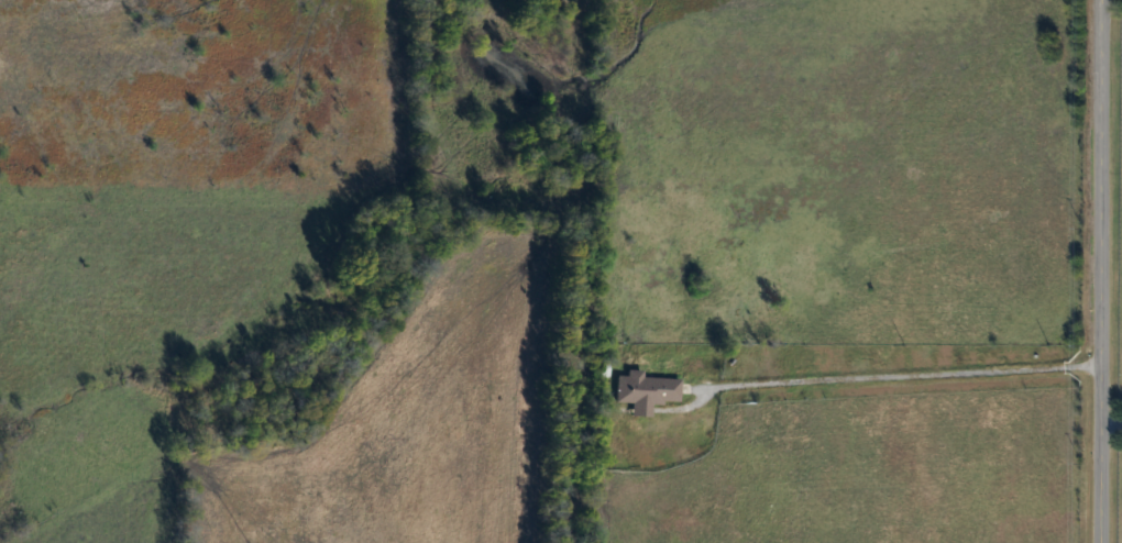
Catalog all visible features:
road: (1104, 271)
road: (905, 375)
building: (642, 391)
road: (1112, 426)

